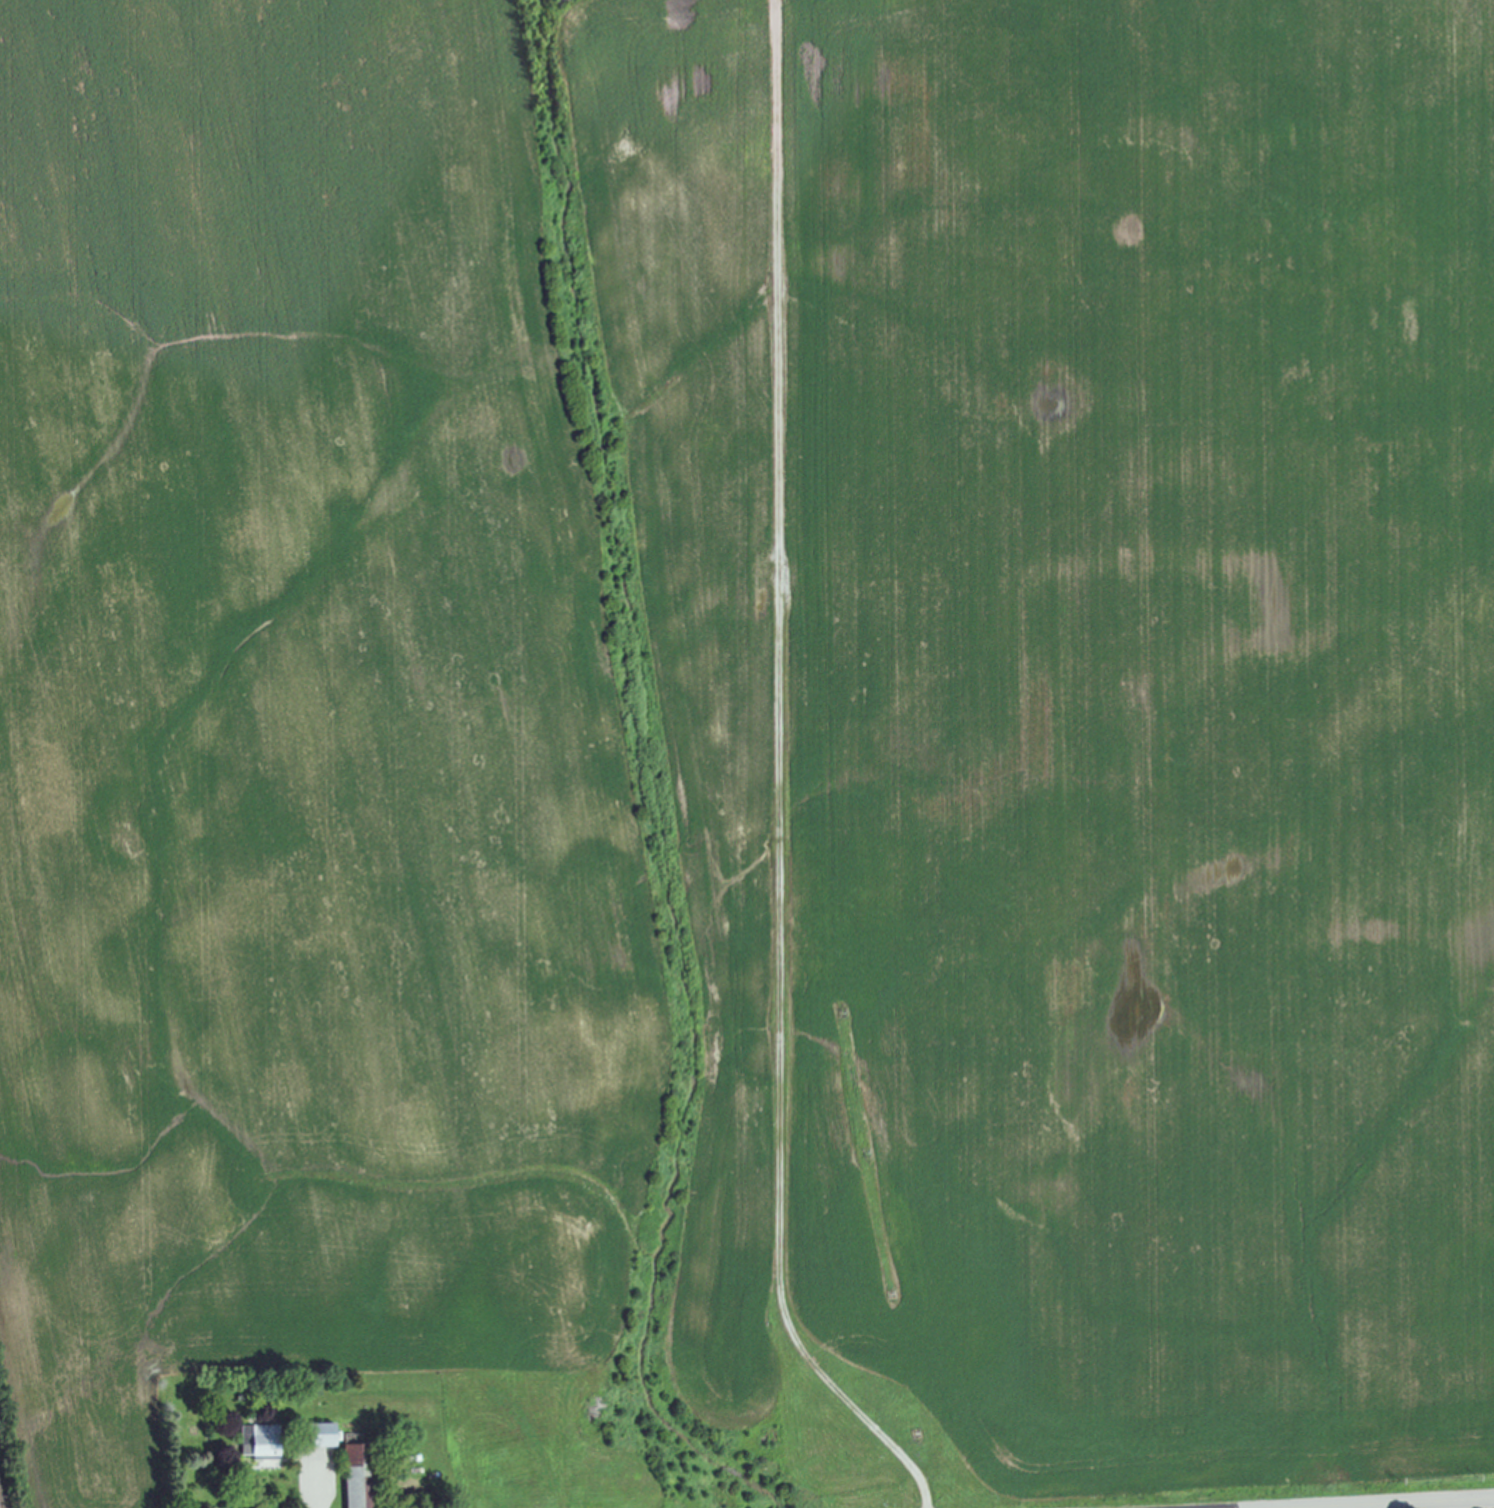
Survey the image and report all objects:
building: (315, 1436)
building: (254, 1447)
building: (350, 1476)
road: (1369, 1502)
airport: (1302, 1506)

